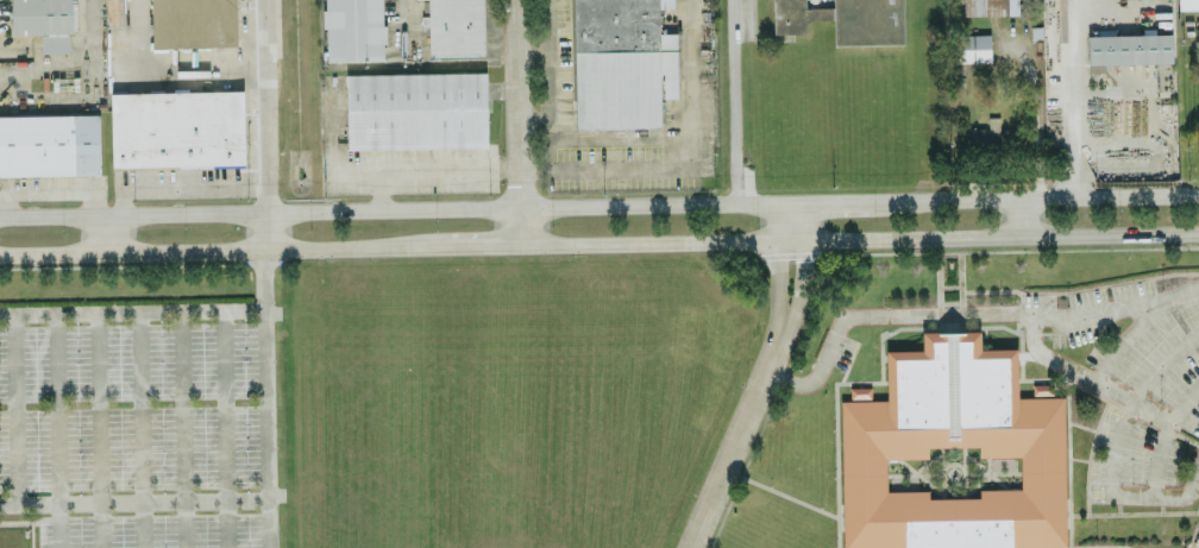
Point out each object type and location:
building: (1188, 4)
building: (991, 6)
building: (846, 19)
building: (44, 21)
building: (194, 23)
road: (401, 27)
building: (456, 27)
building: (353, 29)
road: (531, 42)
building: (972, 46)
building: (1129, 48)
helipad: (1131, 53)
building: (621, 64)
road: (550, 83)
road: (1075, 97)
road: (730, 101)
road: (260, 103)
building: (414, 111)
road: (533, 111)
road: (516, 121)
building: (177, 127)
road: (620, 137)
building: (50, 143)
road: (684, 163)
road: (377, 172)
road: (181, 185)
road: (378, 189)
road: (48, 191)
road: (1054, 194)
road: (846, 200)
road: (390, 206)
road: (1019, 215)
road: (806, 221)
road: (264, 229)
road: (107, 234)
road: (859, 239)
road: (470, 245)
road: (1049, 250)
road: (209, 251)
road: (777, 270)
road: (962, 289)
road: (1080, 290)
road: (801, 291)
road: (937, 294)
road: (806, 310)
road: (132, 311)
road: (966, 314)
road: (939, 315)
road: (936, 327)
road: (1129, 335)
road: (1087, 376)
building: (1042, 389)
road: (1132, 398)
road: (265, 399)
road: (14, 408)
building: (952, 420)
road: (98, 429)
road: (138, 429)
road: (181, 429)
road: (222, 429)
road: (56, 430)
road: (1165, 435)
road: (740, 443)
road: (751, 479)
road: (1161, 495)
road: (133, 500)
road: (1134, 512)
road: (1069, 531)

